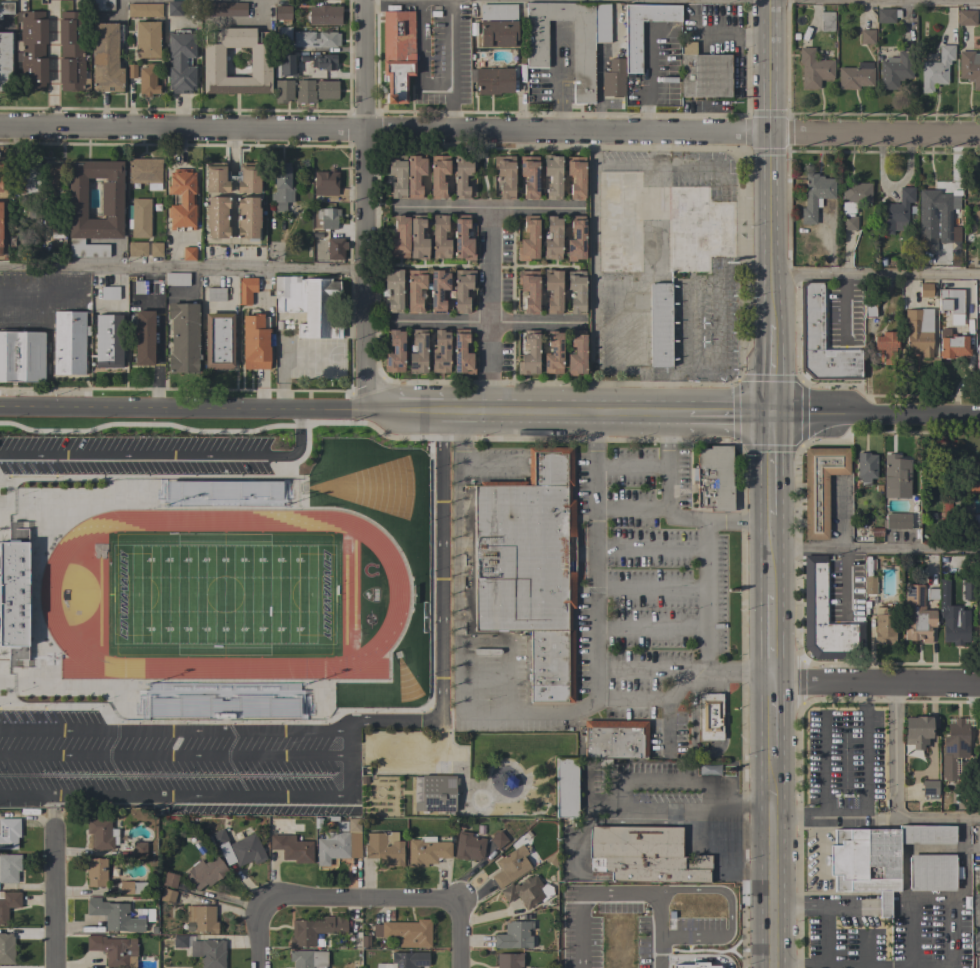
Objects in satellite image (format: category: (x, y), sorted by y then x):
road: (966, 0)
building: (101, 5)
building: (6, 7)
building: (174, 8)
building: (223, 8)
building: (143, 9)
building: (497, 11)
building: (282, 12)
building: (324, 15)
building: (886, 15)
building: (966, 17)
road: (224, 18)
building: (826, 21)
building: (601, 22)
building: (641, 32)
building: (283, 33)
building: (498, 33)
building: (795, 37)
building: (867, 37)
building: (146, 39)
building: (315, 39)
building: (817, 42)
road: (328, 49)
building: (32, 50)
building: (71, 52)
building: (397, 53)
building: (583, 55)
road: (419, 56)
building: (106, 57)
building: (5, 61)
building: (181, 61)
building: (260, 62)
building: (324, 62)
road: (52, 64)
road: (450, 65)
building: (284, 66)
building: (969, 68)
building: (813, 69)
building: (936, 69)
building: (895, 70)
building: (130, 71)
building: (704, 73)
building: (855, 76)
road: (559, 78)
building: (613, 78)
building: (147, 80)
building: (493, 80)
building: (326, 89)
building: (283, 90)
building: (304, 92)
road: (387, 129)
road: (877, 136)
road: (775, 161)
building: (145, 172)
building: (462, 175)
building: (27, 176)
building: (397, 176)
building: (414, 176)
building: (438, 176)
building: (505, 176)
building: (529, 176)
building: (552, 176)
building: (232, 177)
building: (576, 177)
building: (52, 179)
building: (324, 183)
building: (281, 186)
building: (814, 195)
building: (111, 198)
building: (182, 200)
building: (852, 201)
road: (362, 204)
road: (444, 208)
road: (534, 209)
building: (896, 212)
building: (33, 216)
building: (217, 217)
building: (140, 218)
building: (247, 218)
building: (327, 218)
building: (933, 218)
building: (620, 222)
building: (56, 229)
building: (697, 229)
building: (400, 237)
building: (418, 237)
building: (440, 238)
building: (553, 238)
building: (462, 239)
building: (528, 239)
building: (576, 239)
building: (335, 247)
building: (137, 249)
building: (155, 249)
building: (188, 253)
building: (882, 262)
road: (181, 268)
road: (877, 276)
building: (177, 279)
building: (140, 287)
building: (394, 289)
building: (415, 289)
building: (438, 289)
building: (462, 289)
building: (245, 290)
building: (529, 290)
building: (553, 290)
building: (925, 290)
building: (576, 291)
building: (109, 292)
building: (215, 294)
road: (108, 302)
building: (308, 304)
building: (951, 305)
road: (489, 310)
building: (869, 310)
road: (487, 323)
building: (659, 324)
building: (703, 325)
building: (919, 331)
building: (144, 337)
road: (157, 338)
building: (183, 338)
building: (822, 340)
building: (108, 341)
building: (218, 341)
building: (885, 341)
building: (69, 342)
building: (255, 342)
building: (951, 345)
building: (417, 351)
building: (439, 351)
building: (395, 352)
building: (462, 353)
building: (529, 353)
building: (553, 353)
building: (577, 353)
building: (21, 356)
road: (775, 371)
road: (148, 408)
road: (367, 409)
road: (448, 411)
road: (572, 413)
road: (730, 417)
traffic signals: (775, 419)
road: (877, 419)
road: (168, 452)
road: (594, 462)
road: (629, 465)
road: (665, 465)
road: (775, 467)
building: (865, 468)
building: (969, 475)
building: (896, 477)
building: (714, 478)
building: (820, 487)
building: (222, 493)
building: (897, 521)
building: (976, 521)
building: (197, 523)
road: (878, 550)
road: (776, 556)
building: (529, 566)
building: (870, 585)
stadium: (222, 589)
building: (970, 590)
road: (592, 591)
building: (13, 593)
park: (221, 593)
track: (222, 593)
building: (931, 594)
road: (707, 595)
building: (942, 600)
building: (979, 608)
building: (917, 615)
building: (825, 618)
building: (884, 625)
building: (954, 630)
road: (776, 640)
road: (440, 645)
road: (459, 646)
road: (878, 685)
road: (674, 687)
road: (654, 701)
building: (711, 716)
road: (777, 722)
road: (173, 728)
building: (918, 731)
building: (978, 734)
building: (957, 737)
building: (615, 739)
road: (864, 750)
road: (173, 754)
building: (708, 769)
building: (962, 769)
park: (456, 770)
road: (645, 778)
building: (930, 787)
building: (566, 788)
road: (895, 790)
road: (171, 794)
building: (436, 794)
road: (838, 816)
building: (9, 833)
building: (102, 833)
building: (498, 839)
building: (335, 843)
building: (468, 846)
building: (238, 848)
building: (292, 848)
building: (139, 849)
building: (384, 849)
building: (427, 851)
building: (643, 855)
building: (877, 858)
road: (777, 864)
road: (716, 865)
building: (511, 866)
building: (9, 868)
building: (96, 872)
building: (205, 872)
building: (932, 873)
building: (169, 880)
building: (130, 887)
building: (527, 891)
building: (167, 896)
road: (614, 896)
road: (360, 902)
road: (796, 904)
building: (8, 905)
road: (57, 905)
building: (114, 915)
building: (204, 919)
building: (315, 930)
building: (408, 933)
road: (261, 934)
building: (514, 935)
road: (459, 936)
building: (179, 941)
building: (364, 942)
building: (6, 948)
building: (114, 950)
building: (208, 952)
road: (825, 953)
road: (951, 954)
building: (308, 958)
building: (405, 960)
building: (508, 960)

